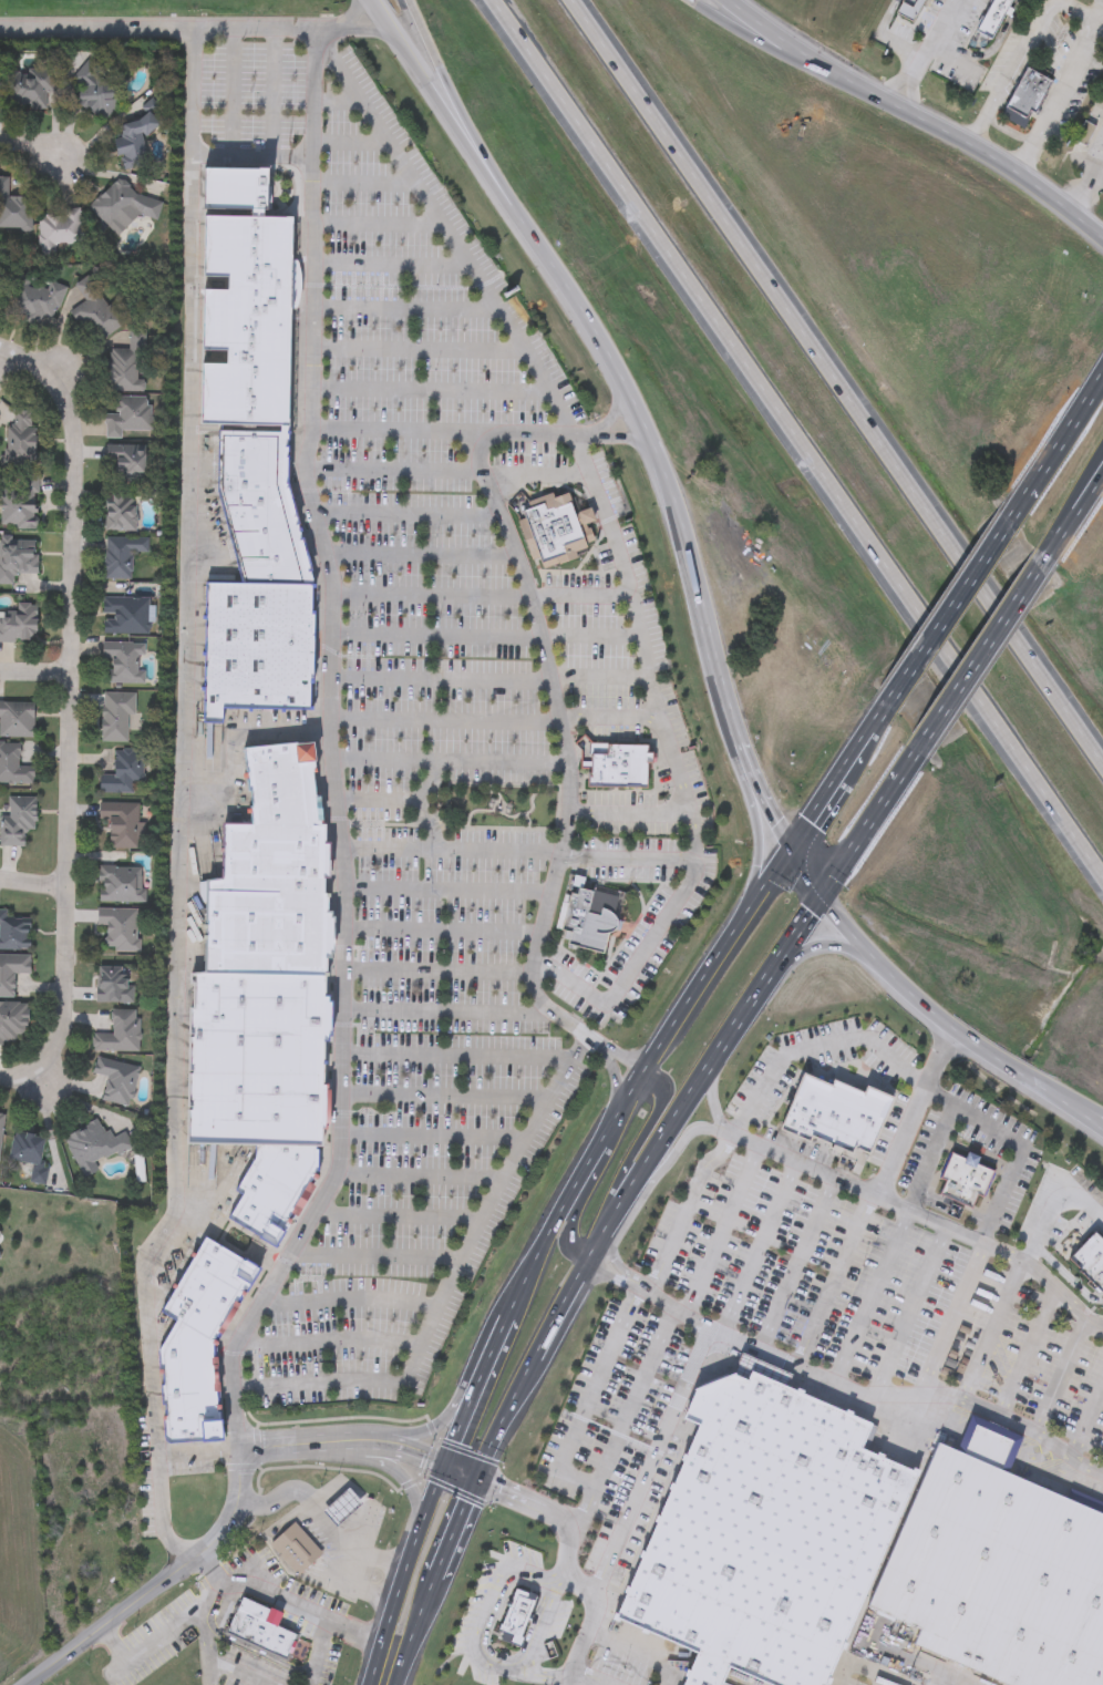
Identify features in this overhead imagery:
building: (910, 8)
building: (992, 19)
road: (189, 23)
road: (1035, 32)
road: (880, 38)
road: (998, 39)
road: (926, 47)
road: (947, 50)
road: (855, 85)
road: (1059, 86)
building: (28, 88)
road: (233, 90)
road: (272, 90)
building: (95, 91)
building: (1028, 94)
road: (454, 100)
road: (339, 103)
road: (926, 110)
road: (986, 121)
building: (1083, 133)
building: (133, 141)
road: (352, 145)
road: (34, 152)
road: (251, 156)
road: (1086, 177)
road: (1095, 178)
road: (365, 185)
building: (124, 204)
building: (13, 209)
road: (378, 225)
building: (58, 230)
road: (450, 235)
road: (392, 267)
road: (765, 282)
building: (1, 289)
building: (37, 300)
building: (247, 310)
road: (405, 310)
building: (94, 311)
road: (708, 311)
road: (418, 349)
road: (10, 362)
building: (127, 366)
road: (430, 391)
road: (633, 401)
building: (126, 415)
road: (610, 418)
road: (442, 432)
building: (20, 439)
road: (614, 439)
building: (255, 443)
road: (1054, 444)
building: (126, 464)
road: (394, 470)
road: (538, 474)
building: (257, 495)
building: (19, 503)
road: (1073, 507)
building: (121, 512)
road: (501, 513)
road: (409, 515)
road: (605, 515)
building: (555, 531)
road: (421, 554)
building: (121, 556)
building: (17, 558)
building: (276, 558)
road: (427, 593)
road: (579, 594)
road: (989, 602)
building: (125, 616)
road: (939, 623)
building: (20, 625)
road: (433, 637)
road: (590, 638)
building: (259, 646)
road: (978, 653)
road: (647, 658)
road: (73, 660)
building: (124, 661)
road: (948, 661)
road: (37, 672)
road: (439, 680)
road: (601, 681)
road: (1058, 701)
building: (115, 716)
building: (17, 720)
road: (444, 720)
building: (280, 750)
road: (333, 754)
road: (450, 762)
building: (619, 763)
building: (281, 764)
building: (13, 766)
road: (678, 769)
building: (123, 772)
road: (179, 787)
road: (831, 790)
road: (1038, 791)
building: (286, 797)
road: (379, 799)
park: (499, 804)
building: (17, 819)
road: (866, 822)
building: (122, 823)
road: (692, 831)
road: (757, 844)
building: (277, 850)
road: (452, 851)
traffic signals: (790, 854)
road: (558, 862)
road: (34, 883)
building: (120, 884)
road: (446, 892)
traffic signals: (821, 892)
road: (666, 911)
building: (591, 915)
building: (267, 924)
building: (118, 929)
road: (441, 931)
building: (14, 933)
road: (822, 942)
road: (883, 968)
building: (11, 973)
road: (435, 973)
building: (114, 984)
road: (446, 1010)
building: (259, 1015)
building: (12, 1024)
building: (118, 1034)
road: (815, 1045)
road: (455, 1057)
road: (48, 1061)
road: (640, 1080)
building: (116, 1081)
road: (1051, 1087)
road: (1051, 1092)
road: (445, 1095)
building: (258, 1101)
building: (801, 1101)
road: (717, 1102)
building: (815, 1107)
road: (911, 1110)
building: (838, 1112)
building: (859, 1118)
building: (875, 1120)
building: (1, 1127)
road: (432, 1137)
road: (640, 1137)
road: (1016, 1140)
building: (93, 1148)
building: (28, 1153)
road: (932, 1157)
road: (671, 1160)
building: (289, 1165)
road: (421, 1174)
building: (966, 1178)
building: (266, 1205)
road: (1051, 1206)
road: (580, 1210)
road: (688, 1211)
road: (920, 1214)
road: (399, 1215)
road: (723, 1230)
road: (762, 1250)
building: (1, 1255)
road: (377, 1255)
building: (1091, 1258)
building: (227, 1264)
road: (796, 1264)
road: (590, 1270)
road: (1066, 1276)
road: (836, 1281)
road: (452, 1284)
building: (213, 1287)
road: (872, 1297)
road: (347, 1298)
road: (911, 1311)
building: (197, 1313)
road: (956, 1318)
road: (992, 1329)
road: (328, 1343)
road: (1029, 1352)
building: (188, 1368)
road: (1063, 1374)
road: (845, 1388)
road: (457, 1390)
road: (477, 1390)
road: (590, 1398)
building: (192, 1414)
road: (628, 1416)
road: (1087, 1420)
building: (194, 1431)
road: (409, 1446)
road: (653, 1459)
traffic signals: (447, 1465)
road: (464, 1473)
traffic signals: (481, 1482)
road: (403, 1483)
building: (344, 1507)
gas station: (344, 1507)
road: (163, 1509)
road: (323, 1518)
building: (767, 1531)
road: (204, 1544)
building: (297, 1548)
building: (100, 1553)
road: (567, 1560)
road: (411, 1562)
building: (1001, 1564)
road: (287, 1601)
building: (518, 1615)
building: (262, 1629)
road: (207, 1630)
road: (161, 1636)
road: (322, 1653)
road: (477, 1655)
road: (209, 1671)
road: (240, 1671)
road: (384, 1674)
road: (546, 1674)
road: (581, 1682)

